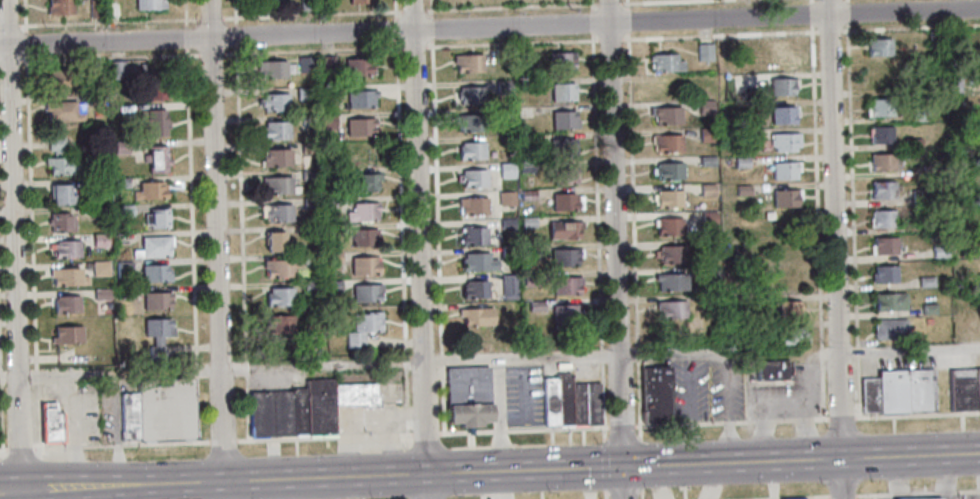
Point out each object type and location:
building: (274, 0)
building: (362, 1)
road: (540, 3)
road: (592, 3)
building: (328, 4)
building: (148, 5)
building: (307, 5)
road: (395, 5)
road: (431, 6)
building: (58, 7)
building: (95, 8)
building: (115, 8)
road: (414, 9)
road: (186, 12)
road: (25, 14)
road: (294, 14)
road: (396, 14)
road: (628, 16)
road: (592, 19)
road: (104, 21)
road: (10, 24)
road: (432, 27)
road: (396, 28)
road: (490, 28)
road: (801, 31)
road: (187, 36)
road: (610, 37)
building: (934, 38)
building: (951, 38)
road: (26, 41)
road: (512, 41)
road: (414, 45)
building: (879, 47)
road: (210, 51)
building: (705, 52)
building: (505, 54)
building: (783, 59)
road: (10, 60)
building: (562, 60)
building: (328, 62)
building: (469, 62)
building: (307, 63)
building: (666, 64)
building: (359, 66)
building: (273, 68)
building: (117, 70)
building: (61, 75)
building: (156, 81)
building: (506, 85)
building: (783, 86)
building: (307, 91)
building: (330, 91)
building: (564, 91)
building: (472, 95)
building: (362, 98)
building: (98, 99)
building: (276, 101)
building: (705, 107)
building: (880, 107)
building: (65, 111)
building: (507, 112)
building: (973, 113)
building: (919, 114)
building: (666, 115)
building: (783, 115)
building: (565, 119)
building: (329, 120)
building: (157, 122)
building: (310, 122)
building: (473, 122)
building: (362, 126)
building: (276, 130)
building: (881, 135)
building: (706, 136)
building: (732, 139)
building: (507, 141)
building: (974, 142)
building: (668, 143)
building: (784, 143)
building: (912, 143)
building: (310, 146)
building: (564, 146)
building: (121, 148)
building: (470, 150)
building: (277, 156)
building: (61, 157)
building: (160, 159)
building: (707, 161)
building: (881, 162)
building: (741, 163)
building: (508, 168)
building: (527, 168)
building: (669, 170)
building: (785, 170)
building: (929, 171)
road: (851, 172)
building: (310, 174)
building: (565, 174)
building: (474, 177)
building: (331, 178)
road: (240, 179)
building: (120, 182)
building: (364, 182)
building: (89, 183)
building: (278, 184)
building: (152, 189)
road: (597, 189)
building: (707, 189)
building: (743, 190)
building: (883, 190)
building: (63, 193)
road: (436, 196)
building: (977, 196)
building: (507, 197)
building: (530, 197)
building: (919, 197)
road: (401, 198)
building: (786, 198)
building: (568, 200)
building: (668, 200)
building: (333, 201)
building: (312, 202)
road: (192, 205)
building: (474, 205)
road: (817, 208)
building: (364, 210)
road: (31, 211)
building: (278, 212)
building: (157, 219)
building: (708, 219)
building: (882, 219)
building: (62, 221)
building: (529, 221)
building: (508, 222)
building: (930, 226)
building: (670, 228)
building: (334, 229)
building: (567, 229)
building: (311, 230)
road: (634, 234)
building: (475, 235)
building: (367, 237)
building: (101, 238)
building: (278, 241)
building: (156, 246)
building: (883, 246)
building: (65, 248)
road: (13, 249)
road: (216, 249)
road: (419, 249)
road: (616, 249)
road: (835, 249)
building: (510, 250)
building: (531, 251)
building: (939, 252)
building: (977, 252)
building: (715, 254)
building: (672, 255)
building: (335, 256)
building: (568, 256)
building: (312, 257)
building: (480, 261)
building: (366, 265)
building: (101, 267)
building: (279, 267)
building: (125, 268)
building: (709, 271)
building: (157, 272)
building: (884, 274)
building: (69, 275)
building: (531, 278)
building: (978, 279)
building: (670, 282)
building: (926, 282)
building: (334, 284)
building: (313, 285)
building: (568, 285)
building: (511, 287)
building: (477, 288)
building: (128, 292)
building: (368, 292)
building: (103, 293)
building: (281, 296)
building: (158, 299)
building: (713, 299)
building: (890, 302)
building: (67, 303)
building: (538, 305)
building: (671, 309)
building: (789, 309)
building: (929, 309)
building: (563, 313)
building: (478, 316)
building: (280, 325)
building: (315, 327)
building: (364, 327)
building: (889, 328)
building: (158, 334)
building: (67, 335)
building: (793, 337)
road: (0, 353)
road: (858, 353)
road: (858, 353)
road: (723, 356)
road: (442, 359)
road: (406, 361)
road: (354, 363)
road: (246, 367)
road: (197, 370)
building: (772, 371)
road: (36, 374)
road: (1, 376)
road: (406, 385)
road: (858, 388)
building: (977, 388)
parking lot: (708, 389)
building: (962, 389)
road: (524, 391)
road: (604, 391)
parking lot: (787, 392)
road: (810, 392)
building: (899, 392)
parking lot: (524, 394)
building: (656, 395)
building: (355, 396)
building: (468, 398)
road: (442, 399)
building: (563, 401)
building: (550, 402)
building: (577, 405)
building: (592, 405)
building: (320, 407)
road: (246, 408)
road: (691, 408)
building: (166, 409)
road: (198, 409)
road: (406, 409)
road: (415, 409)
road: (728, 410)
building: (299, 412)
road: (38, 413)
road: (2, 415)
building: (270, 415)
road: (378, 415)
road: (499, 415)
building: (129, 417)
parking lot: (371, 418)
road: (807, 418)
building: (51, 423)
road: (407, 425)
road: (804, 426)
road: (556, 427)
road: (621, 427)
road: (762, 427)
road: (115, 429)
road: (500, 429)
road: (466, 431)
road: (425, 432)
road: (387, 433)
road: (405, 433)
road: (369, 434)
road: (348, 435)
road: (223, 439)
road: (286, 439)
road: (166, 442)
road: (117, 444)
road: (391, 444)
road: (72, 445)
road: (19, 446)
road: (347, 446)
road: (3, 448)
road: (641, 462)
road: (605, 464)
traffic signals: (622, 467)
road: (490, 472)
road: (918, 492)
road: (643, 494)
road: (842, 494)
road: (607, 496)
road: (875, 496)
road: (773, 497)
road: (812, 497)
building: (918, 498)

